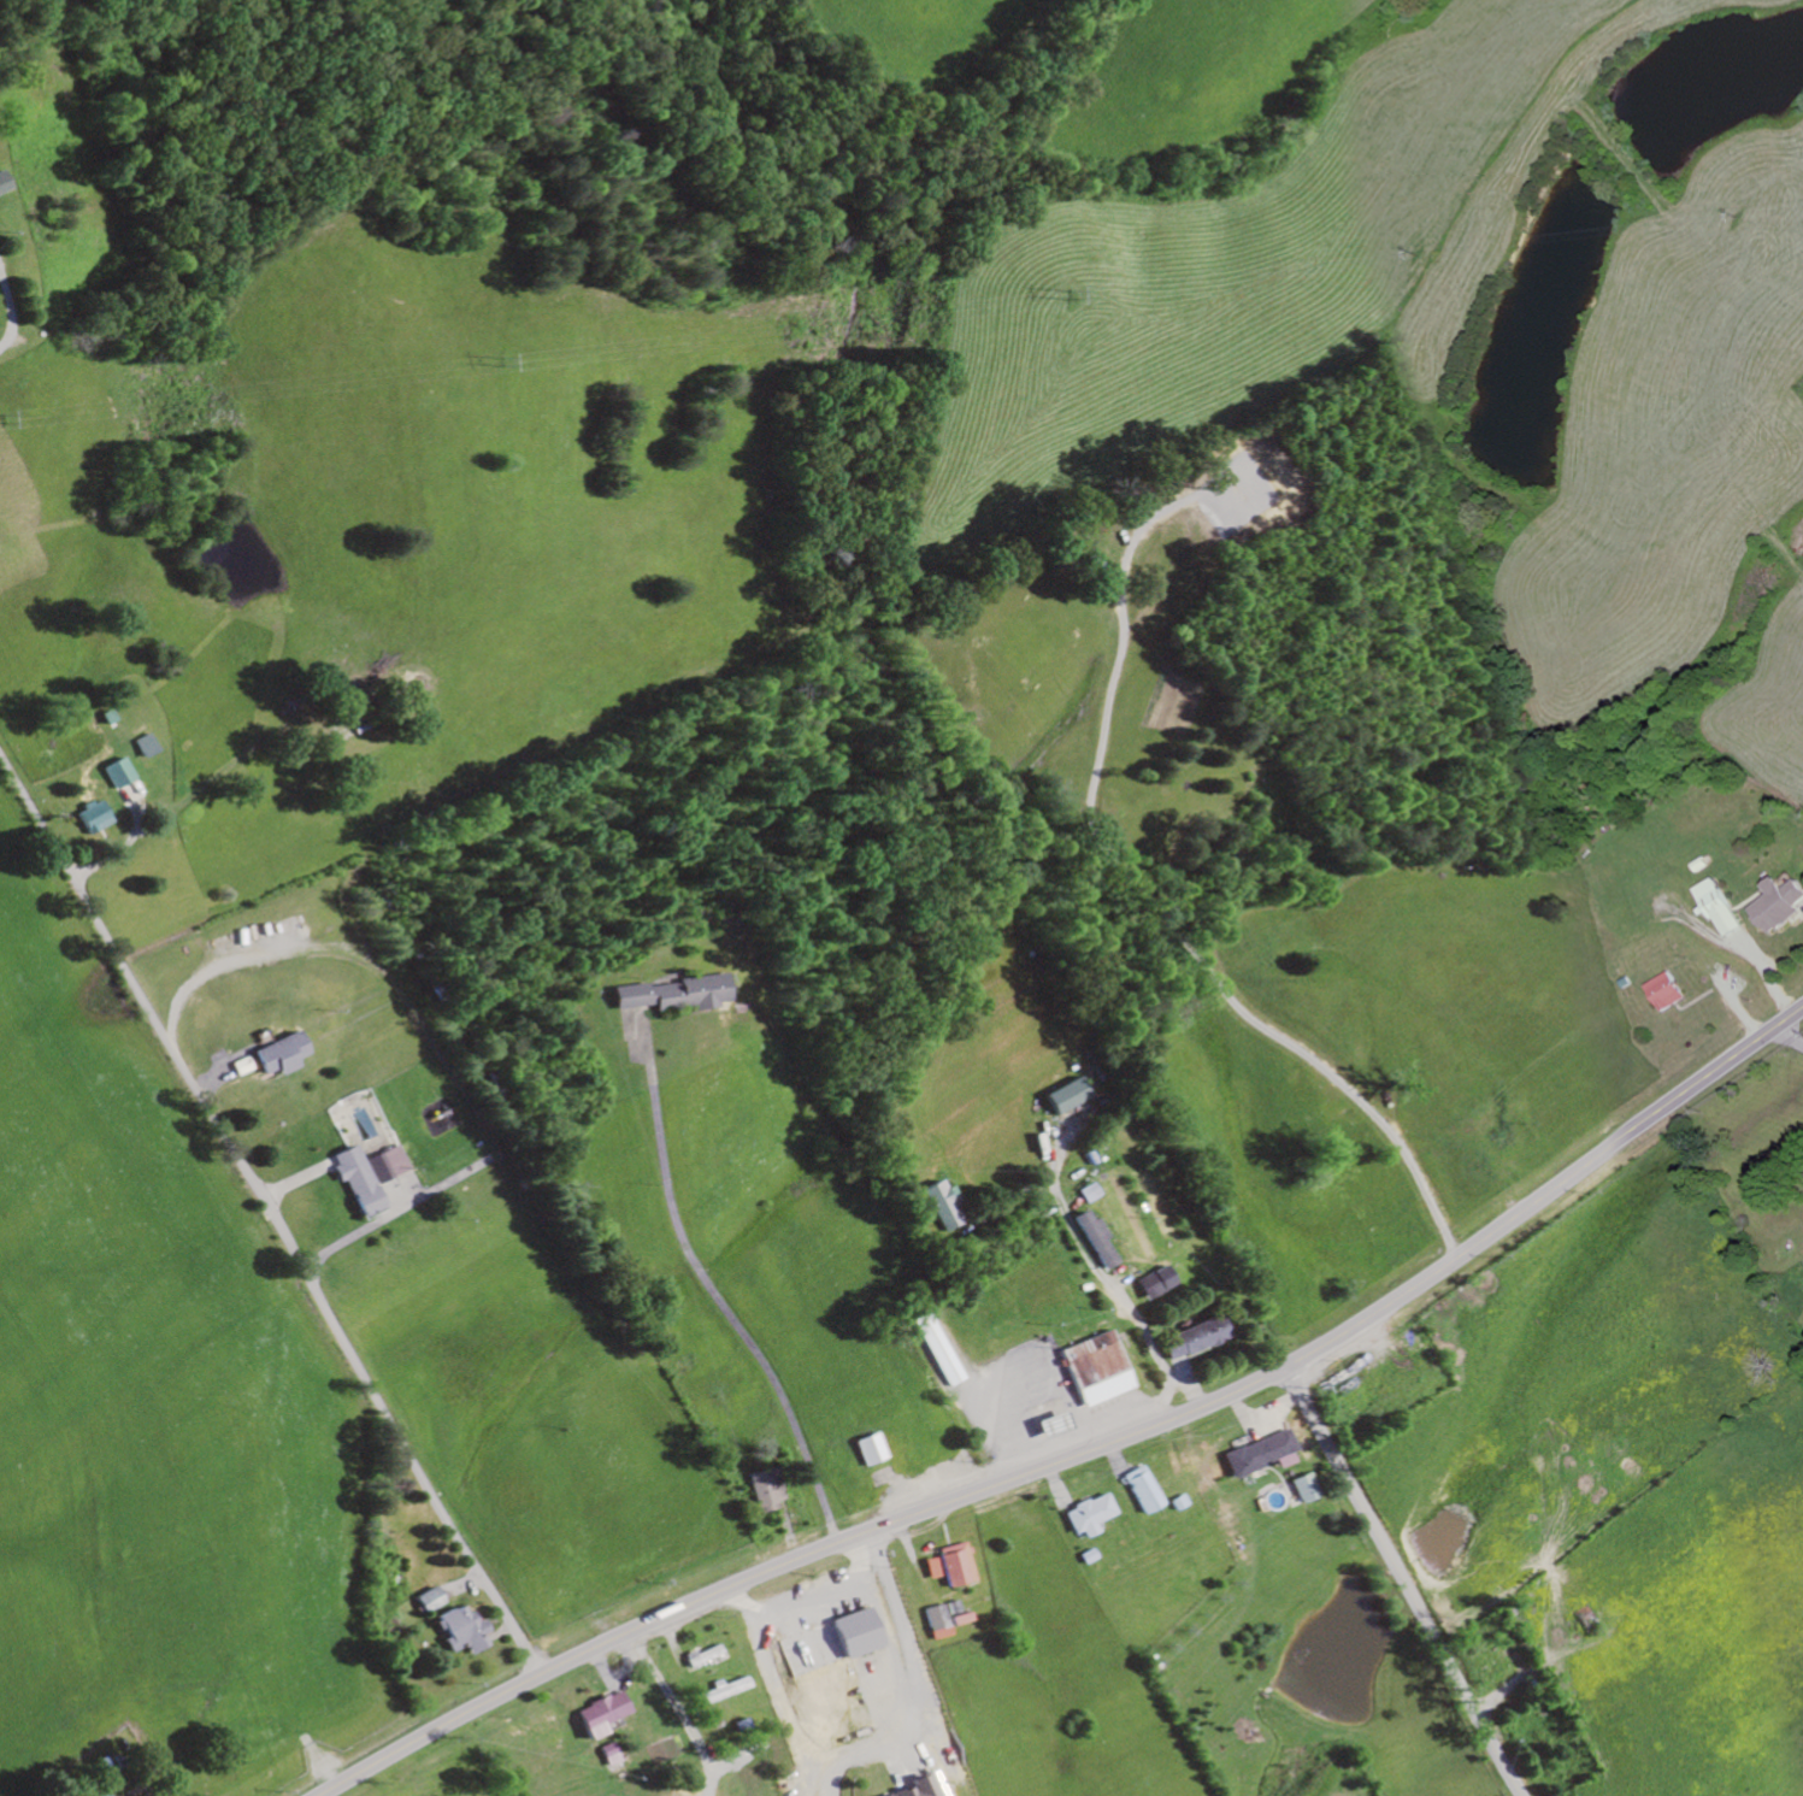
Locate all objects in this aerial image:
road: (4, 319)
building: (135, 747)
building: (107, 775)
building: (83, 819)
building: (1781, 906)
building: (1722, 907)
road: (1210, 973)
road: (1769, 974)
building: (1671, 993)
building: (662, 996)
road: (1793, 1034)
building: (272, 1054)
building: (1061, 1097)
building: (379, 1165)
building: (347, 1182)
building: (1083, 1194)
building: (942, 1205)
road: (269, 1223)
building: (1088, 1241)
building: (1148, 1283)
road: (711, 1290)
building: (1189, 1338)
building: (935, 1350)
building: (1089, 1370)
road: (1029, 1395)
building: (866, 1449)
road: (1086, 1450)
building: (1255, 1454)
building: (1301, 1488)
building: (759, 1490)
building: (1137, 1490)
building: (1085, 1515)
building: (953, 1565)
building: (927, 1568)
road: (1400, 1580)
building: (428, 1601)
building: (951, 1608)
building: (960, 1619)
building: (935, 1623)
building: (458, 1630)
building: (844, 1636)
building: (701, 1657)
building: (723, 1690)
building: (596, 1714)
building: (913, 1788)

